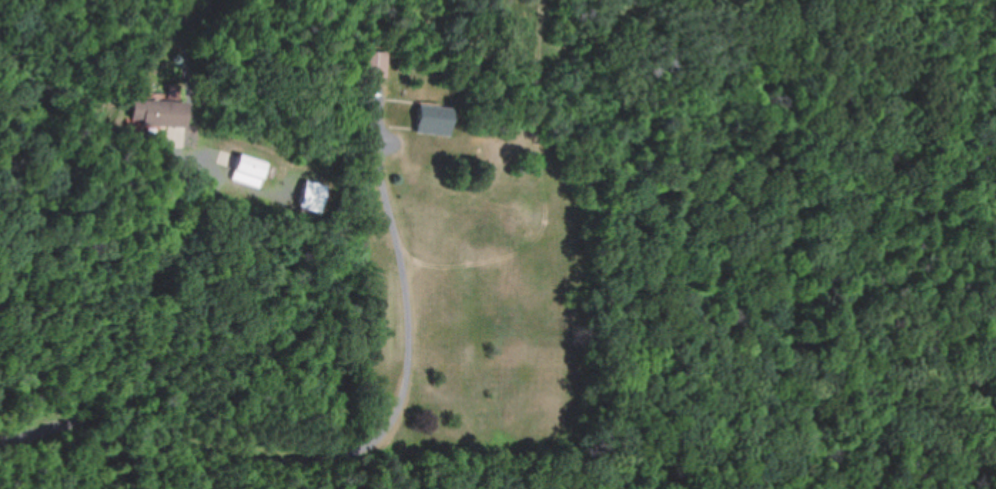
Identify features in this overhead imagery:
building: (376, 63)
building: (158, 112)
building: (432, 118)
building: (248, 169)
road: (138, 349)
road: (326, 433)

